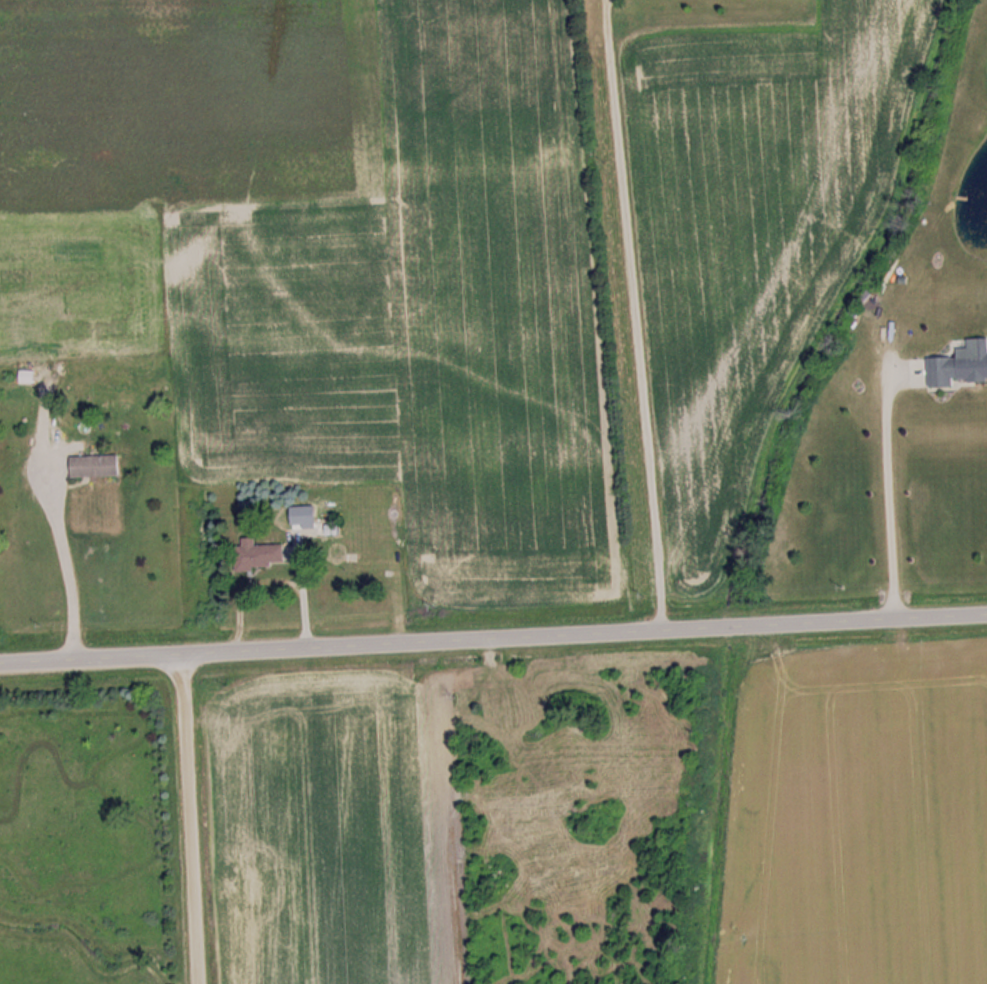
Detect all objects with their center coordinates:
building: (960, 368)
building: (98, 466)
building: (264, 556)
road: (855, 624)
road: (362, 650)
road: (188, 822)

